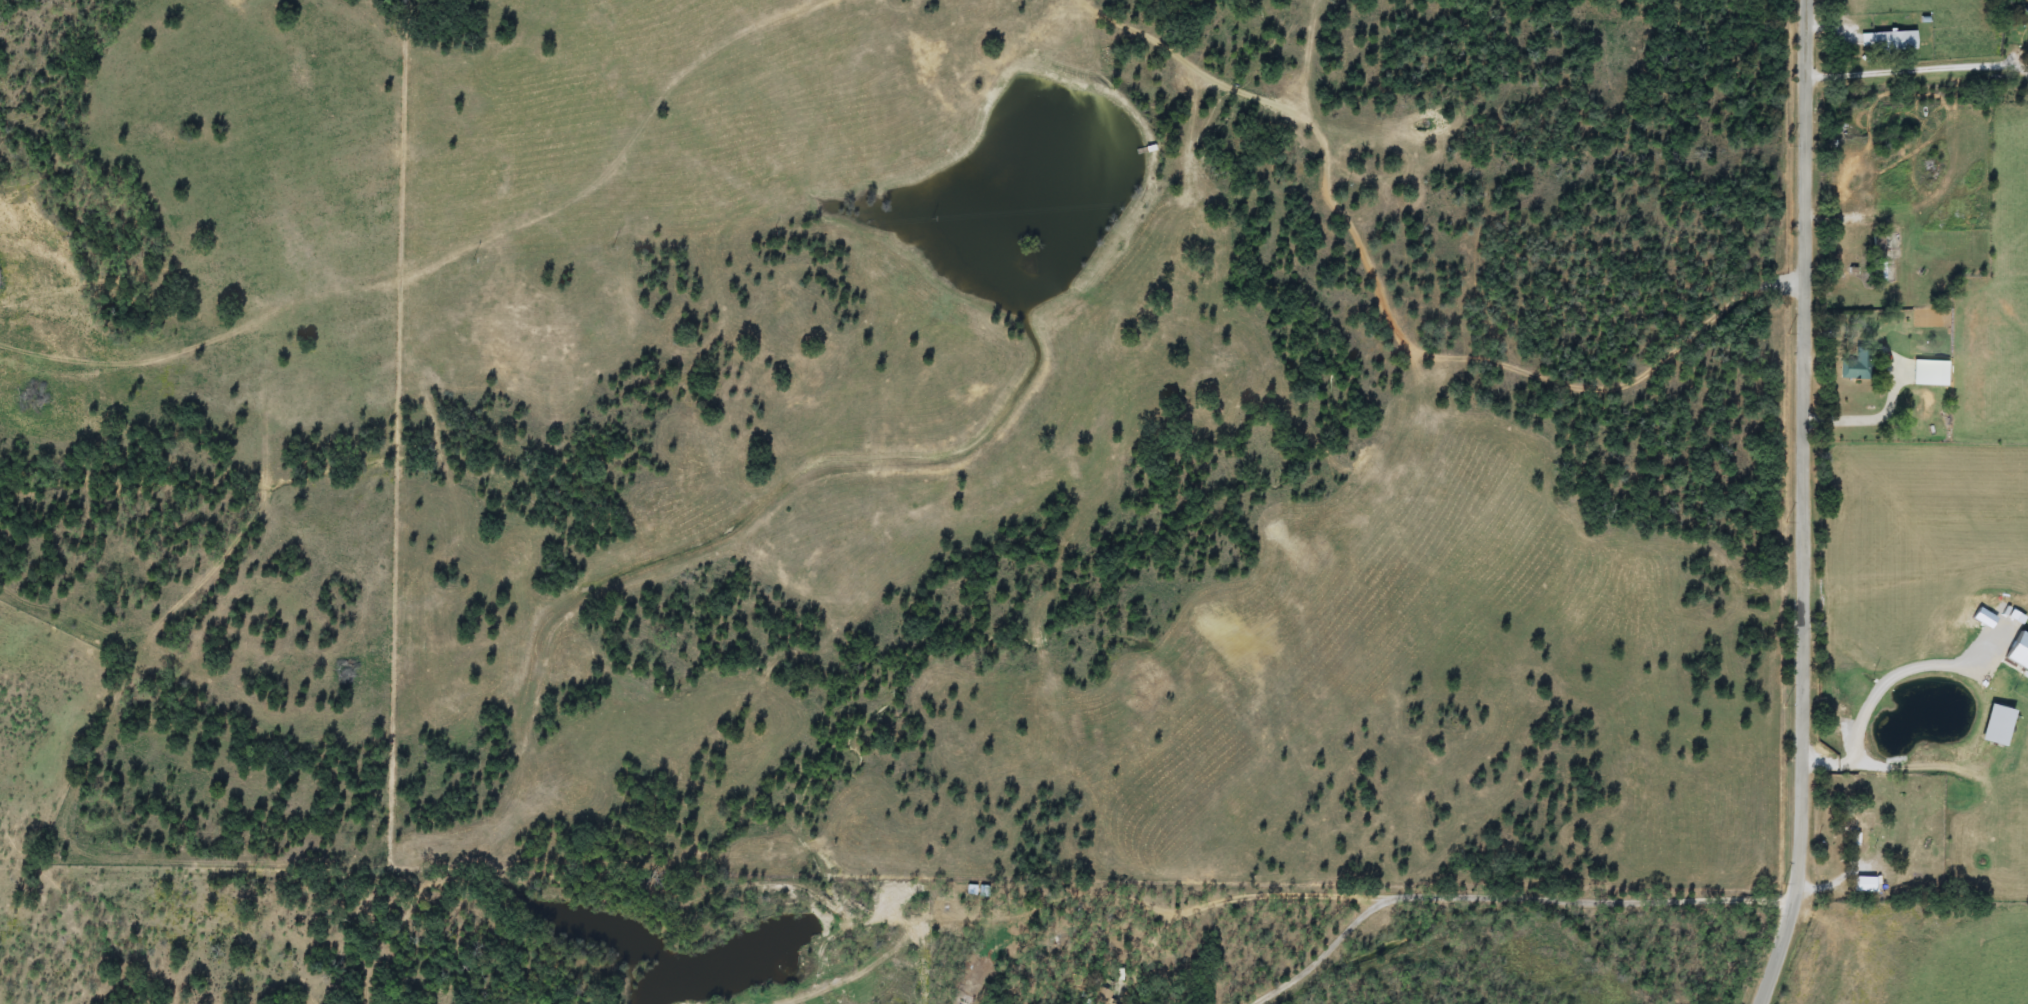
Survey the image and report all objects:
building: (1889, 41)
road: (1908, 71)
building: (1442, 205)
building: (1882, 258)
building: (1857, 367)
building: (1931, 374)
road: (1804, 505)
road: (1921, 668)
road: (1852, 764)
building: (1862, 822)
building: (1866, 885)
road: (1501, 893)
building: (1101, 996)

